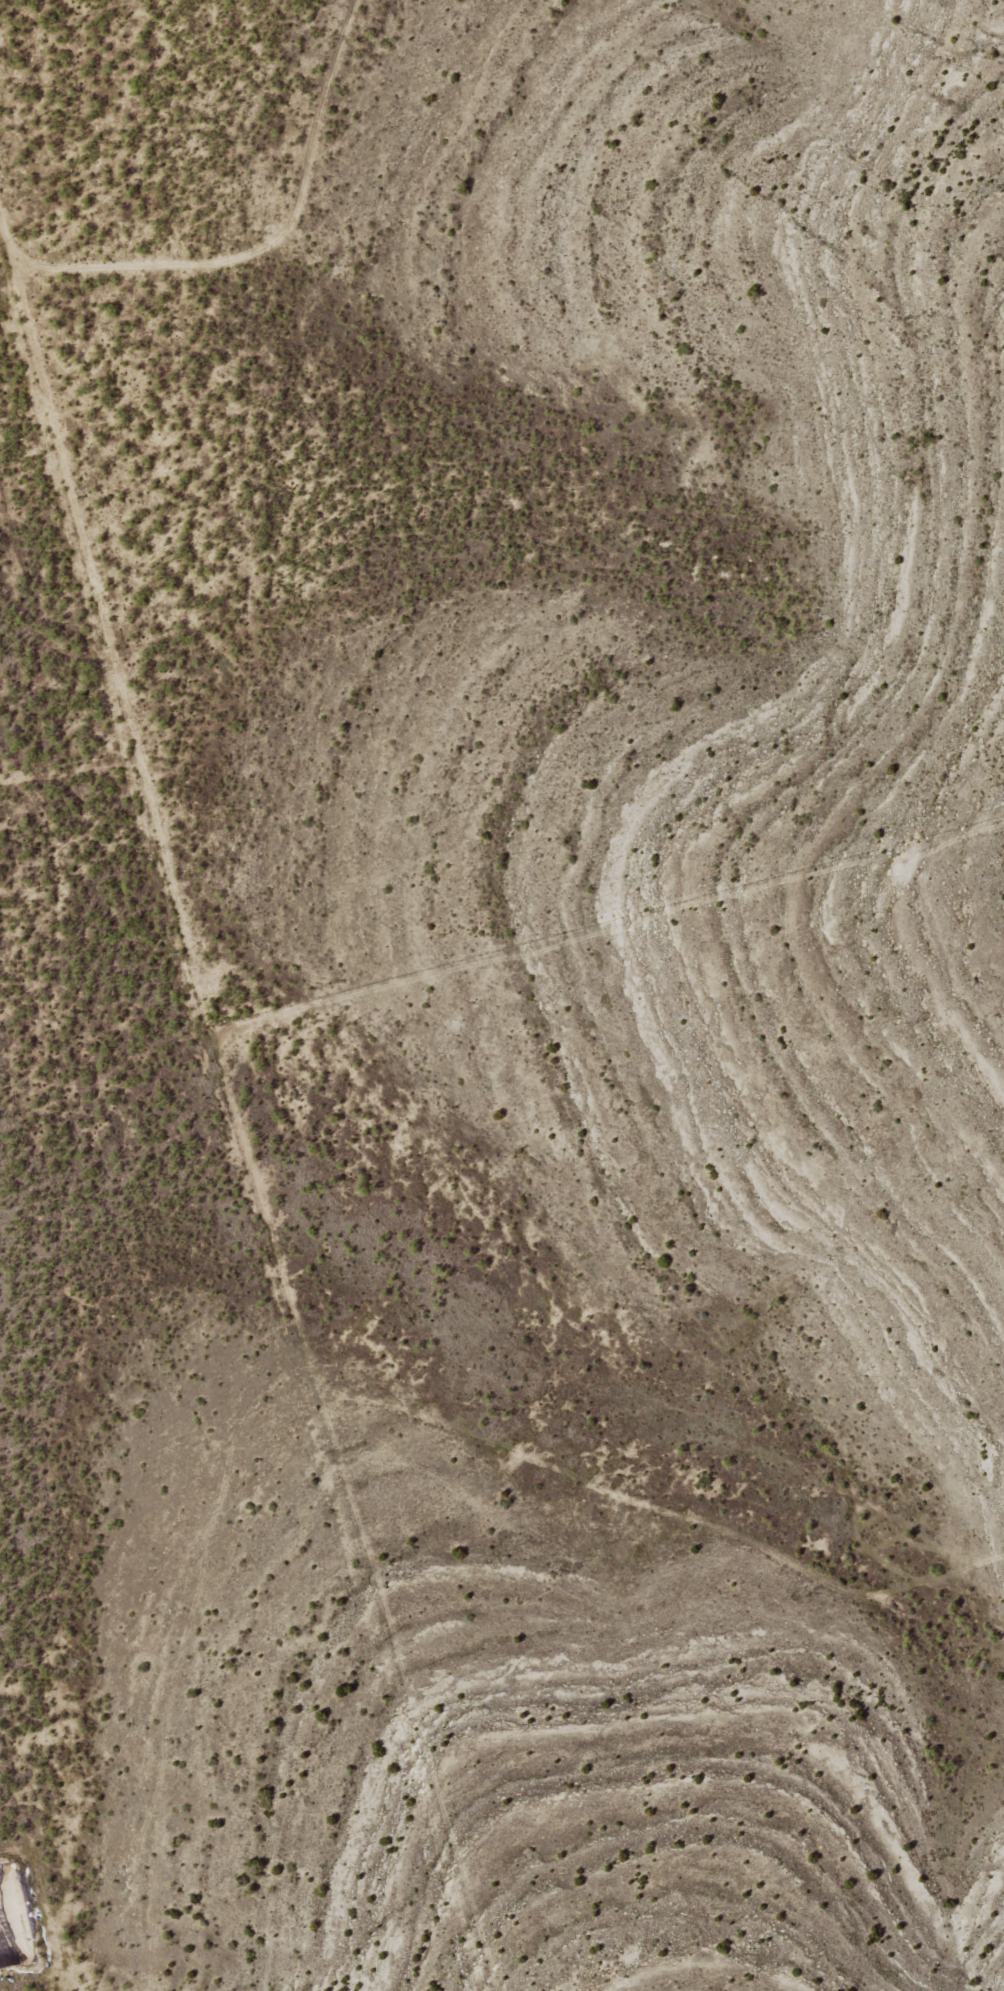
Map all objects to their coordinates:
road: (254, 257)

